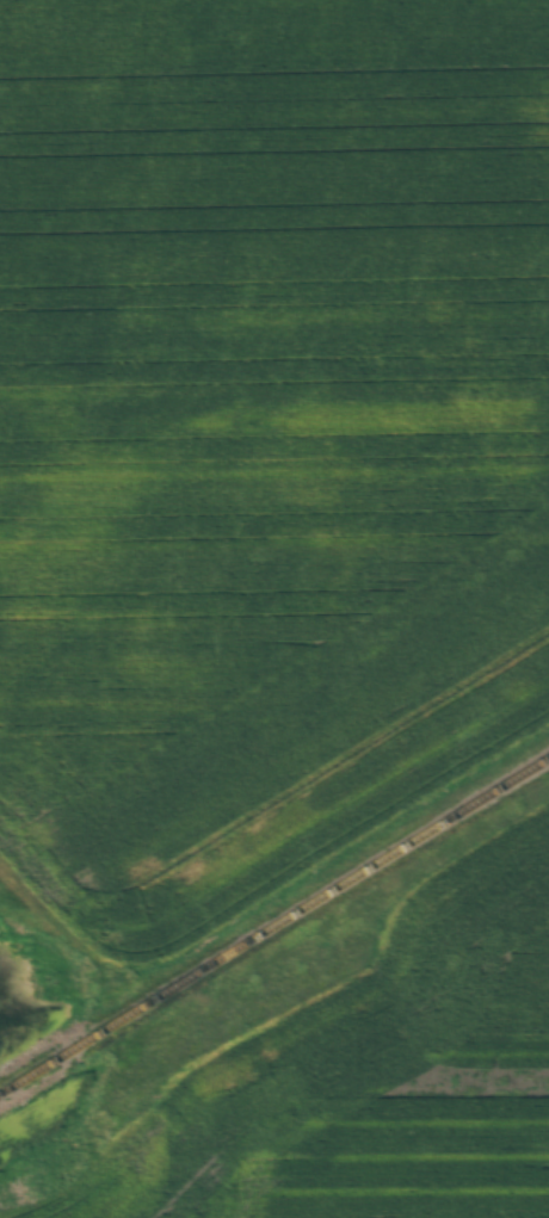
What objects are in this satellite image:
railway: (274, 932)

